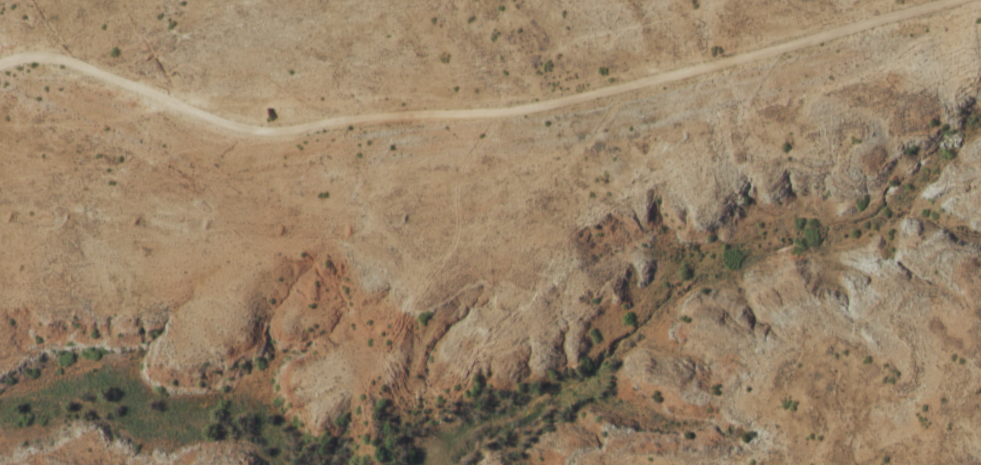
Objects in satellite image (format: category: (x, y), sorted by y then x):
road: (488, 130)

